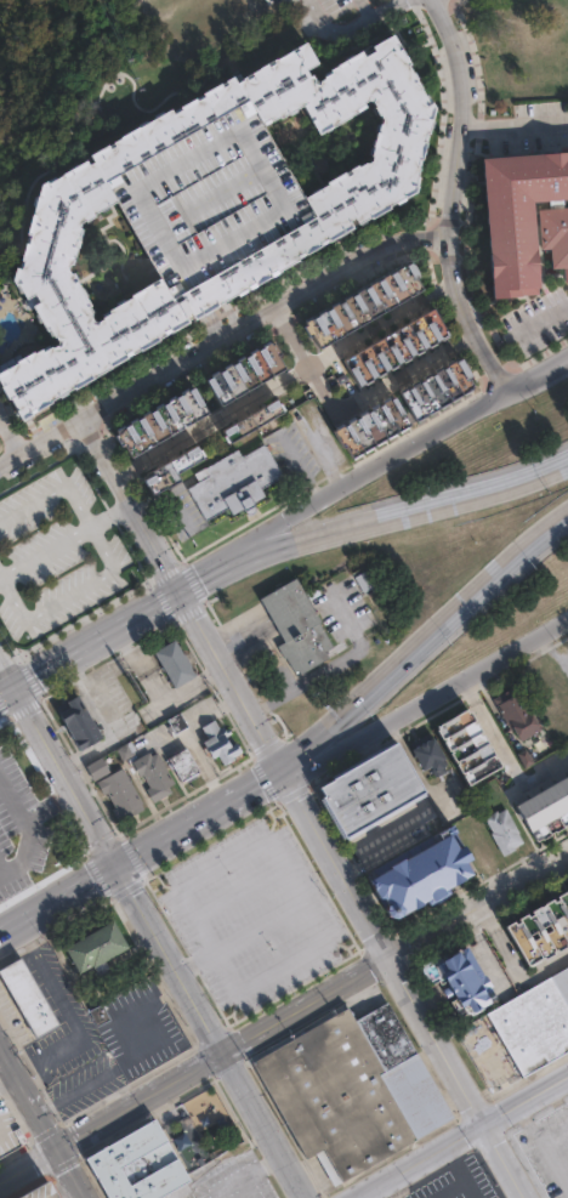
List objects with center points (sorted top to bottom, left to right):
building: (551, 7)
road: (371, 8)
road: (379, 16)
road: (326, 18)
park: (62, 87)
road: (513, 123)
building: (206, 192)
parking garage: (206, 192)
road: (448, 198)
building: (522, 212)
building: (285, 242)
building: (353, 307)
road: (543, 320)
road: (380, 330)
road: (214, 340)
road: (288, 340)
building: (387, 350)
road: (536, 373)
road: (403, 374)
building: (240, 376)
road: (320, 392)
building: (426, 392)
building: (248, 424)
building: (157, 425)
road: (212, 425)
building: (360, 430)
road: (12, 443)
building: (165, 473)
road: (367, 477)
building: (232, 488)
road: (134, 505)
road: (398, 515)
road: (67, 544)
parking lot: (56, 558)
road: (205, 579)
building: (363, 581)
traffic signals: (180, 591)
building: (297, 628)
road: (100, 638)
road: (426, 648)
road: (550, 652)
building: (175, 665)
road: (10, 669)
road: (229, 679)
traffic signals: (21, 687)
road: (10, 692)
road: (426, 700)
building: (72, 725)
building: (518, 727)
building: (175, 728)
building: (465, 744)
building: (216, 749)
road: (506, 753)
building: (421, 755)
traffic signals: (279, 767)
building: (182, 770)
road: (68, 777)
building: (132, 785)
building: (375, 795)
building: (544, 806)
road: (198, 818)
parking lot: (27, 821)
building: (23, 825)
building: (502, 830)
traffic signals: (115, 867)
building: (422, 876)
road: (238, 890)
road: (57, 901)
parking lot: (252, 914)
building: (538, 927)
road: (242, 938)
building: (93, 946)
road: (167, 959)
building: (459, 976)
road: (402, 982)
road: (238, 993)
building: (27, 994)
road: (313, 999)
building: (98, 1014)
parking lot: (138, 1032)
building: (519, 1032)
parking lot: (68, 1045)
building: (351, 1089)
road: (29, 1092)
road: (263, 1124)
building: (7, 1129)
parking garage: (7, 1129)
road: (462, 1137)
traffic signals: (58, 1145)
road: (541, 1151)
road: (29, 1162)
building: (135, 1162)
road: (73, 1171)
parking lot: (237, 1180)
parking lot: (459, 1182)
building: (35, 1191)
parking garage: (35, 1191)
parking lot: (183, 1194)

